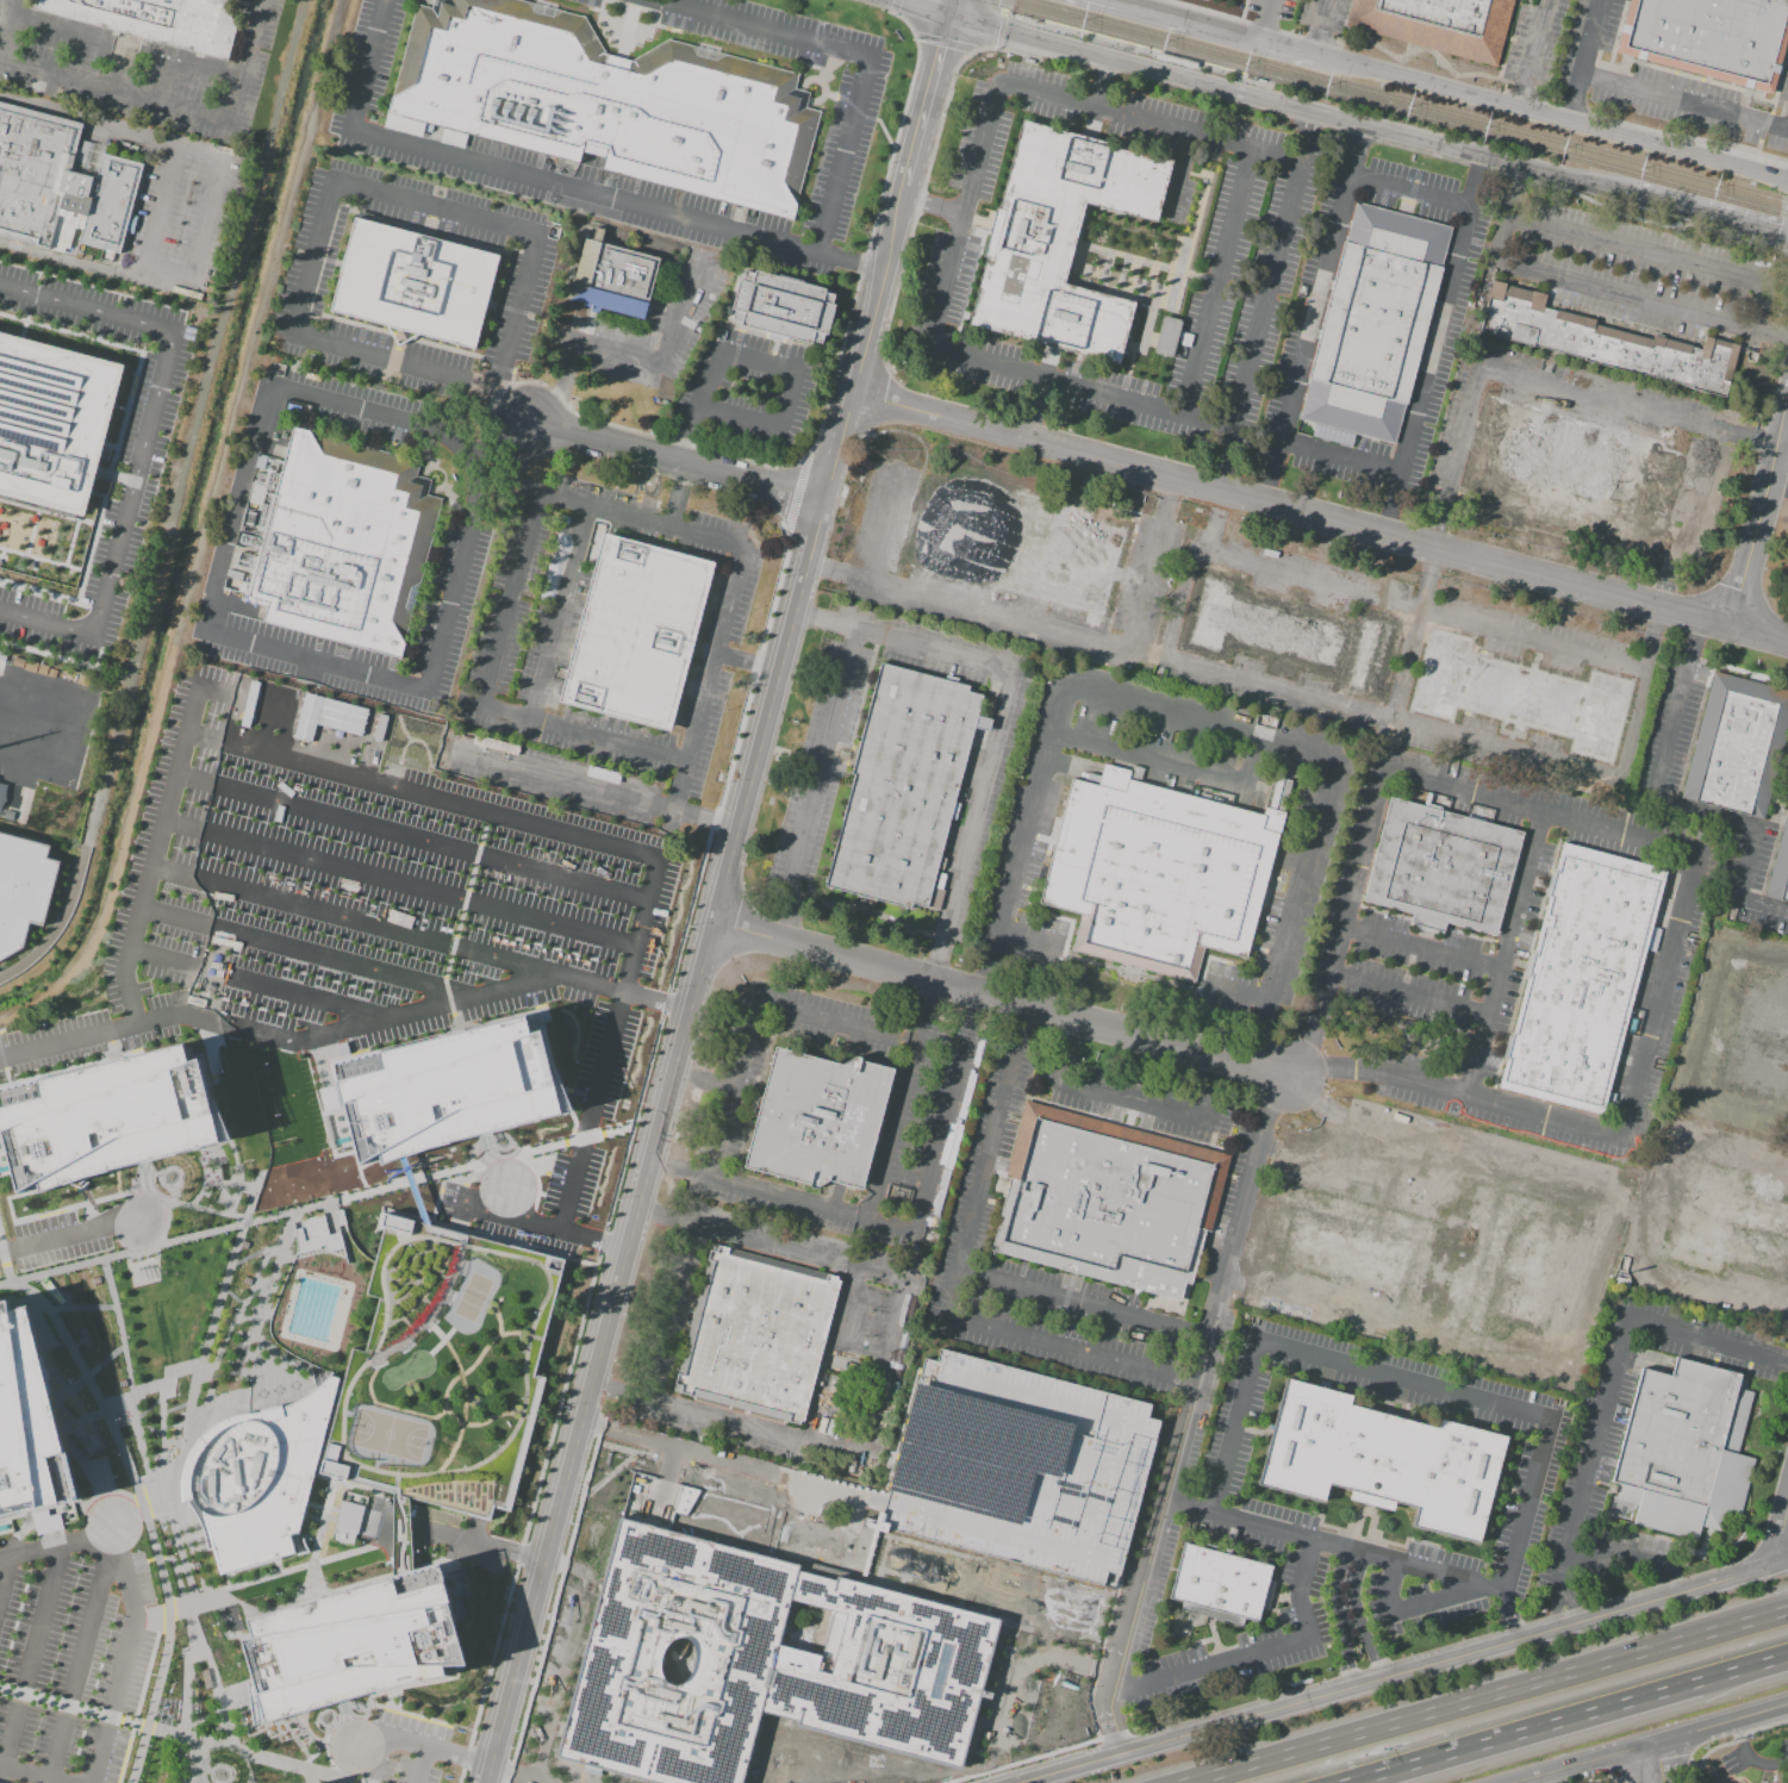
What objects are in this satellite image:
building: (247, 0)
building: (237, 1)
road: (895, 7)
road: (918, 8)
road: (951, 8)
road: (2, 12)
road: (1322, 15)
traffic signals: (949, 18)
road: (1023, 19)
road: (1266, 19)
building: (157, 20)
road: (999, 24)
building: (1438, 24)
road: (1210, 26)
road: (755, 27)
railway: (1041, 30)
building: (1711, 38)
road: (1534, 40)
road: (1315, 42)
road: (1351, 42)
road: (122, 44)
road: (943, 44)
road: (1588, 44)
building: (1176, 61)
road: (243, 62)
road: (367, 63)
road: (113, 92)
road: (1520, 95)
building: (608, 101)
railway: (1404, 101)
road: (1684, 101)
road: (927, 104)
road: (1288, 106)
road: (1572, 106)
railway: (1384, 107)
road: (856, 110)
road: (1550, 117)
road: (1150, 120)
road: (112, 127)
road: (1763, 127)
road: (885, 135)
road: (1680, 136)
road: (1358, 145)
road: (1758, 148)
road: (932, 152)
road: (845, 155)
road: (1475, 181)
road: (593, 192)
park: (556, 193)
building: (58, 194)
road: (434, 210)
road: (160, 212)
road: (1504, 213)
road: (964, 217)
road: (1707, 217)
road: (1651, 223)
road: (205, 227)
road: (1782, 232)
road: (1580, 235)
building: (1061, 244)
road: (859, 264)
road: (94, 266)
road: (1215, 281)
building: (615, 282)
building: (415, 283)
road: (856, 292)
road: (1625, 298)
road: (1266, 301)
road: (86, 305)
building: (781, 310)
road: (686, 312)
road: (515, 316)
road: (1312, 317)
building: (1376, 326)
building: (1165, 336)
road: (1773, 338)
road: (1434, 339)
building: (1606, 342)
road: (316, 343)
road: (613, 351)
road: (758, 359)
road: (711, 379)
road: (1055, 380)
road: (561, 386)
road: (1612, 399)
road: (786, 403)
road: (513, 407)
parking lot: (357, 409)
road: (733, 418)
building: (51, 420)
road: (194, 424)
road: (689, 434)
road: (1786, 437)
road: (1458, 439)
road: (1764, 439)
road: (501, 442)
road: (1339, 459)
road: (677, 460)
road: (131, 481)
building: (1574, 484)
road: (1267, 486)
road: (1778, 487)
road: (1694, 501)
road: (1320, 517)
road: (1220, 522)
road: (1759, 523)
road: (880, 524)
road: (1435, 531)
building: (1016, 542)
building: (331, 543)
road: (827, 568)
road: (1669, 593)
road: (1427, 609)
road: (814, 616)
road: (45, 622)
building: (635, 631)
road: (1070, 632)
building: (1287, 632)
road: (1415, 634)
road: (1693, 636)
parking lot: (263, 640)
road: (924, 646)
road: (21, 682)
road: (411, 690)
building: (1520, 696)
building: (326, 716)
road: (1196, 721)
road: (1407, 721)
road: (1669, 727)
building: (1739, 750)
road: (823, 752)
road: (27, 754)
road: (1146, 760)
road: (1251, 762)
road: (572, 783)
building: (903, 788)
building: (1, 791)
road: (472, 811)
road: (1539, 812)
road: (1708, 812)
road: (973, 815)
road: (704, 818)
road: (1026, 823)
road: (152, 850)
road: (1746, 862)
road: (691, 868)
building: (1443, 873)
building: (1781, 873)
building: (1158, 874)
building: (21, 887)
parking garage: (21, 887)
road: (1294, 897)
road: (1762, 905)
road: (793, 910)
road: (57, 923)
road: (1339, 928)
road: (1420, 947)
road: (1503, 955)
road: (1757, 958)
road: (932, 966)
road: (986, 977)
building: (1581, 983)
road: (693, 985)
road: (1408, 993)
road: (924, 998)
road: (1659, 998)
road: (996, 1000)
road: (971, 1009)
road: (1707, 1020)
road: (1022, 1021)
road: (834, 1022)
park: (1356, 1031)
road: (62, 1041)
building: (1757, 1042)
road: (1252, 1049)
road: (1215, 1071)
road: (554, 1073)
building: (444, 1089)
road: (565, 1089)
road: (733, 1089)
road: (1452, 1095)
road: (1129, 1101)
road: (1208, 1101)
road: (1738, 1103)
road: (893, 1117)
building: (106, 1118)
building: (815, 1123)
road: (941, 1127)
road: (1440, 1142)
road: (624, 1152)
road: (1733, 1157)
road: (662, 1165)
road: (1438, 1167)
road: (1345, 1168)
road: (540, 1171)
road: (532, 1172)
road: (982, 1172)
road: (540, 1193)
road: (796, 1198)
road: (313, 1204)
building: (1109, 1205)
road: (1655, 1205)
road: (654, 1212)
road: (542, 1224)
building: (1725, 1226)
building: (320, 1234)
road: (488, 1236)
road: (54, 1239)
building: (1352, 1243)
road: (785, 1247)
building: (1507, 1266)
road: (1582, 1277)
road: (1717, 1291)
park: (472, 1296)
road: (1082, 1304)
road: (849, 1305)
road: (678, 1311)
road: (1391, 1320)
building: (755, 1336)
road: (1705, 1340)
road: (1059, 1348)
road: (1786, 1361)
road: (881, 1367)
building: (444, 1370)
parking lot: (444, 1370)
road: (1402, 1378)
road: (1186, 1383)
road: (1192, 1390)
road: (846, 1403)
building: (27, 1423)
road: (1233, 1426)
road: (754, 1428)
park: (387, 1434)
road: (1169, 1434)
building: (1687, 1451)
road: (1588, 1459)
building: (1018, 1466)
parking garage: (1018, 1466)
building: (1384, 1466)
road: (791, 1478)
building: (255, 1479)
building: (345, 1522)
road: (1519, 1529)
road: (56, 1540)
road: (1782, 1540)
road: (478, 1541)
road: (1334, 1545)
road: (1612, 1551)
road: (2, 1567)
road: (1133, 1569)
park: (935, 1571)
road: (1672, 1577)
road: (1657, 1582)
road: (1388, 1584)
building: (1220, 1586)
road: (1459, 1586)
road: (1298, 1589)
road: (1562, 1600)
road: (1423, 1603)
road: (1340, 1616)
road: (1358, 1617)
building: (349, 1647)
road: (80, 1651)
road: (124, 1653)
road: (31, 1654)
road: (568, 1656)
road: (1029, 1659)
building: (759, 1663)
road: (1211, 1664)
road: (1406, 1672)
road: (1496, 1696)
road: (1568, 1720)
road: (1117, 1729)
road: (175, 1735)
road: (407, 1744)
road: (1658, 1746)
road: (1749, 1759)
road: (1018, 1760)
road: (1658, 1764)
road: (419, 1765)
road: (1655, 1771)
road: (1, 1772)
road: (29, 1775)
road: (518, 1775)
road: (1595, 1777)
road: (44, 1781)

